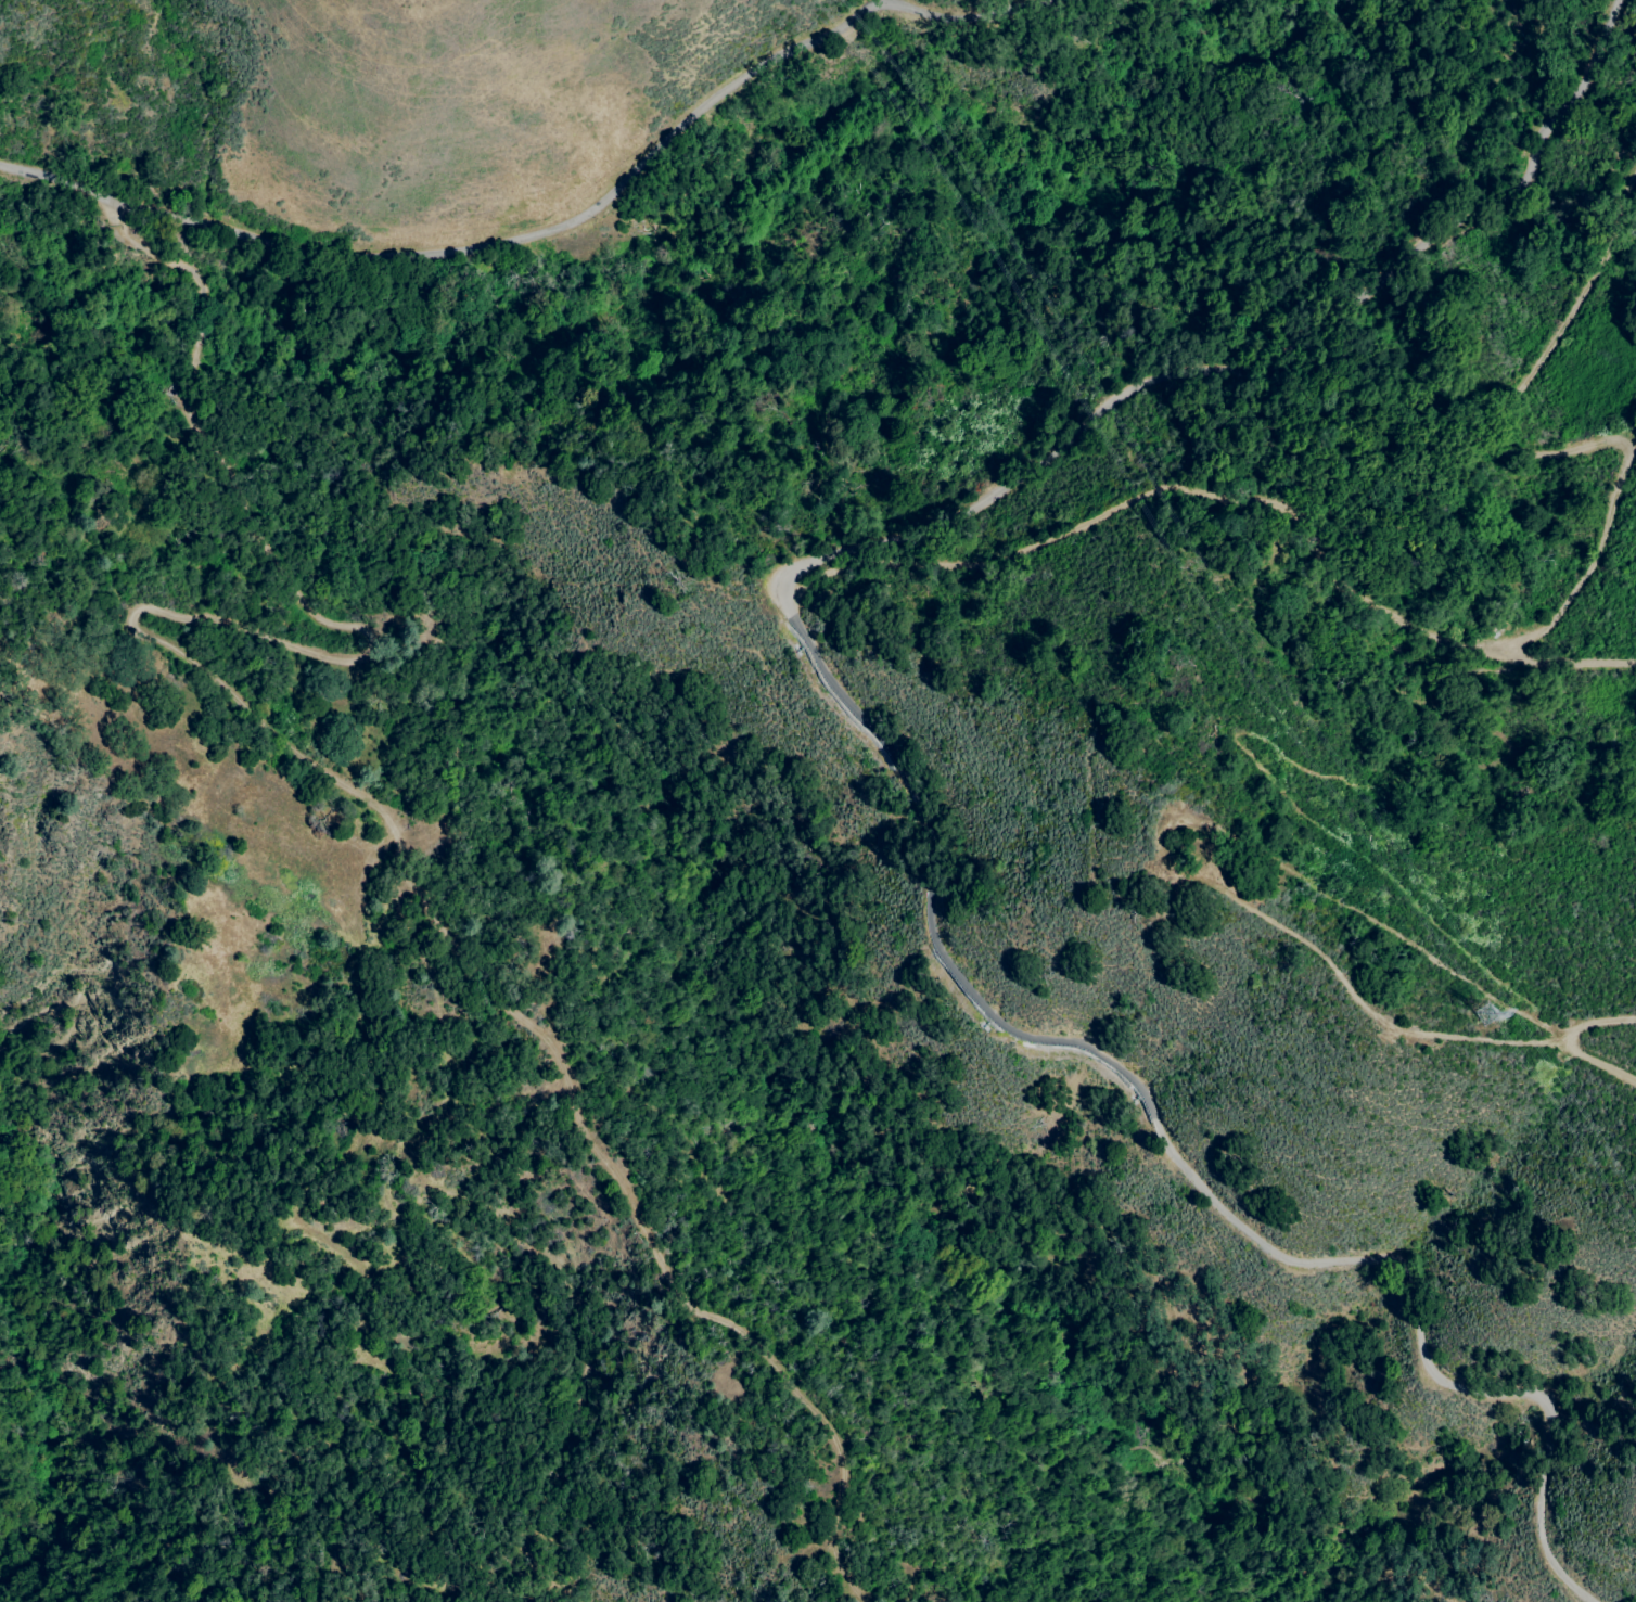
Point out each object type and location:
power tower: (833, 99)
road: (56, 192)
road: (602, 204)
road: (156, 254)
road: (191, 331)
road: (908, 759)
road: (386, 830)
power tower: (1486, 1014)
park: (43, 1359)

